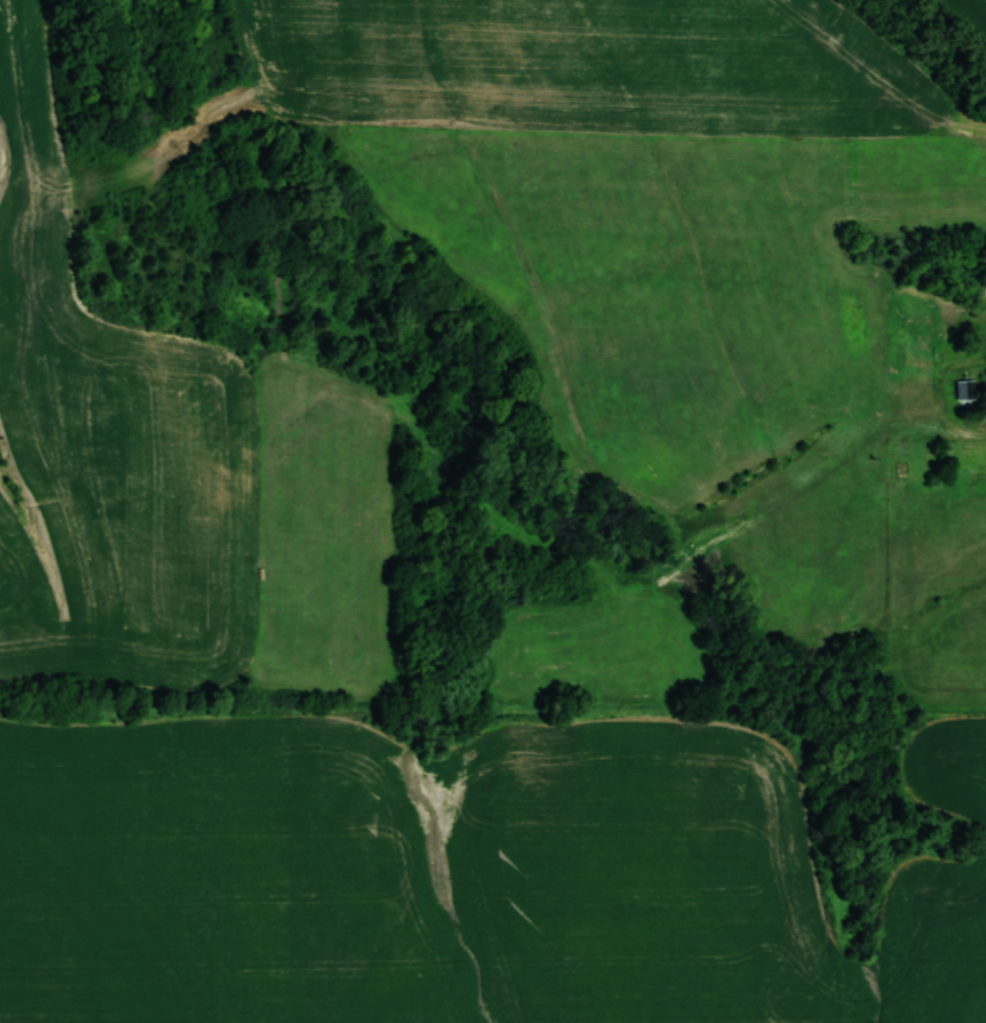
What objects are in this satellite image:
building: (965, 390)

